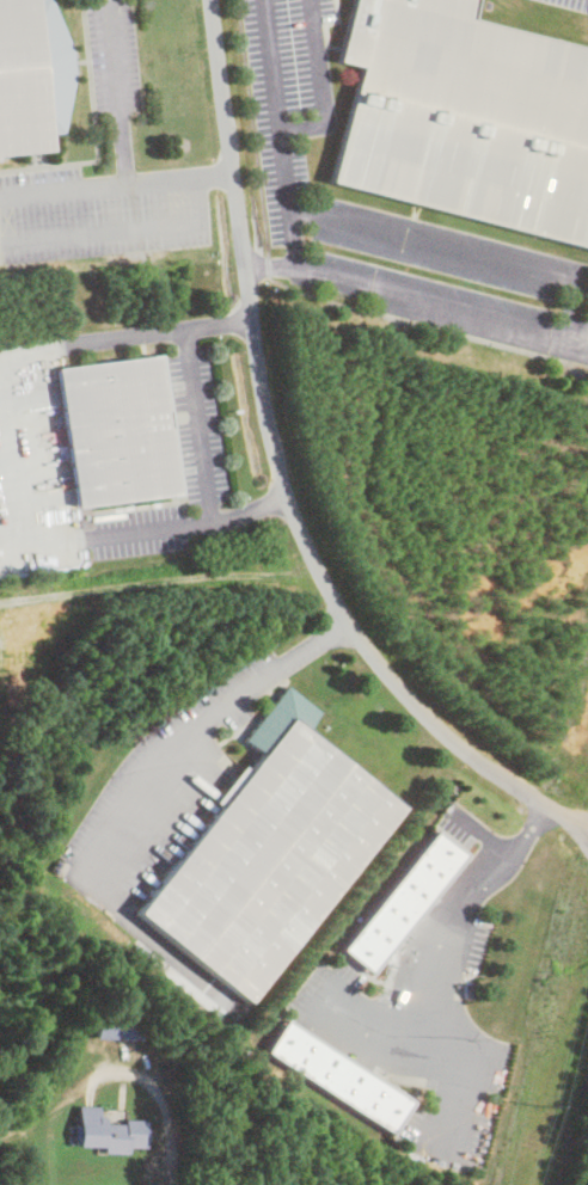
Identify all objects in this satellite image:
building: (31, 76)
road: (321, 85)
road: (117, 90)
building: (463, 118)
road: (278, 133)
road: (215, 173)
road: (99, 182)
road: (124, 229)
road: (460, 252)
road: (417, 297)
road: (218, 324)
road: (197, 424)
building: (114, 431)
road: (24, 452)
road: (277, 477)
road: (247, 508)
road: (198, 731)
building: (270, 851)
building: (402, 901)
road: (459, 905)
building: (337, 1075)
road: (171, 1112)
building: (108, 1129)
power tower: (533, 1142)

